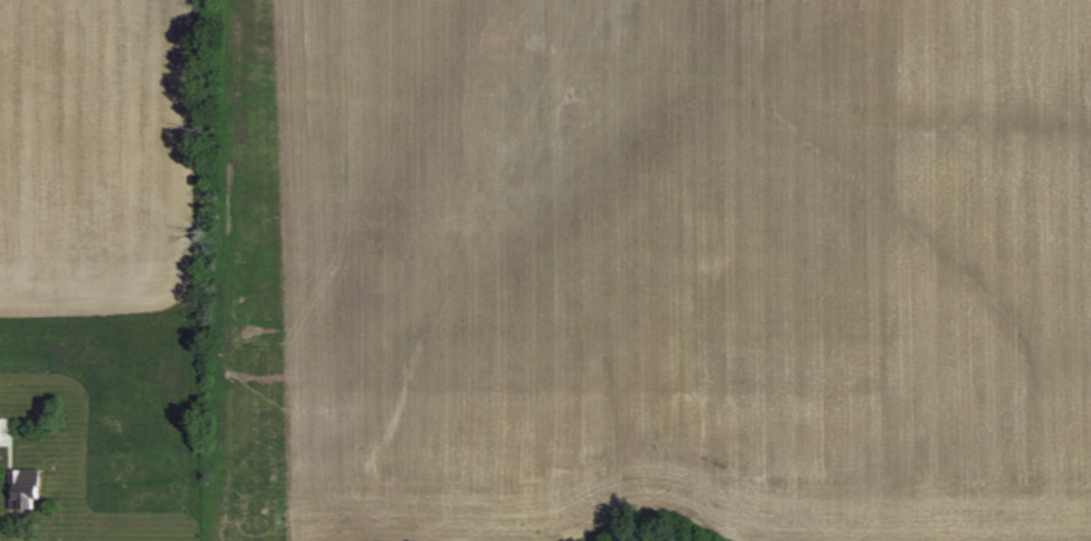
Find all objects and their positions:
building: (0, 430)
building: (24, 488)

